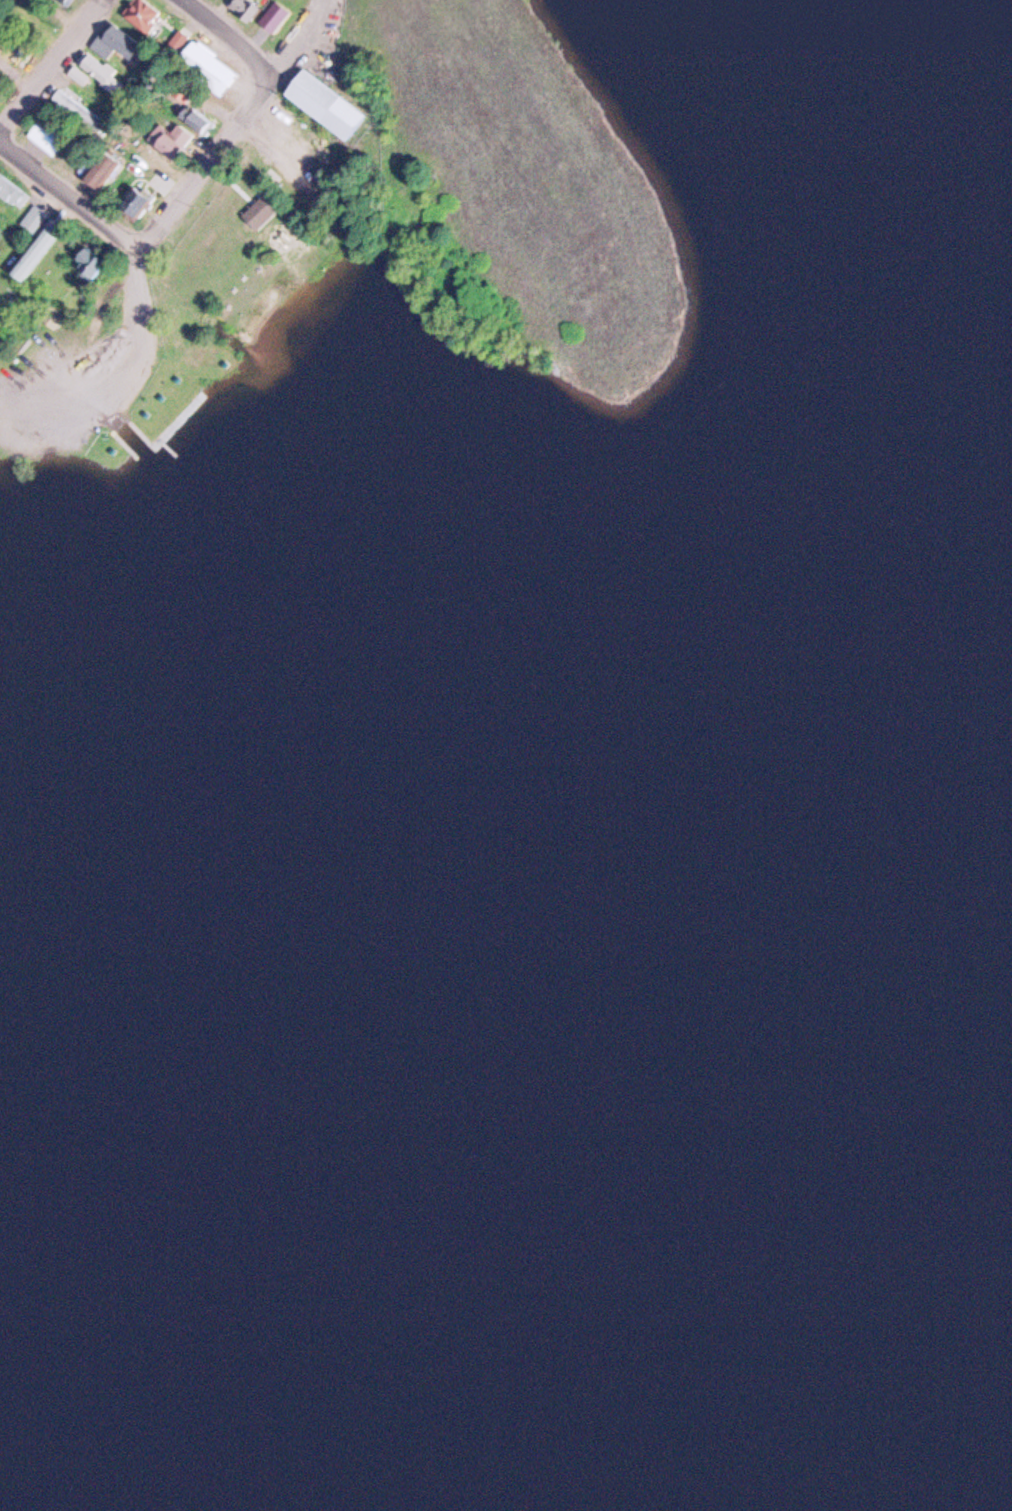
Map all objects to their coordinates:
building: (66, 2)
building: (242, 9)
building: (144, 13)
road: (232, 35)
road: (308, 35)
building: (117, 39)
building: (181, 39)
building: (18, 58)
road: (50, 63)
building: (210, 65)
building: (95, 70)
building: (328, 104)
building: (82, 109)
building: (199, 121)
building: (185, 134)
road: (280, 136)
building: (49, 138)
building: (167, 146)
building: (107, 168)
road: (72, 186)
building: (12, 190)
building: (141, 201)
building: (264, 210)
building: (37, 219)
road: (137, 252)
building: (38, 253)
building: (94, 263)

